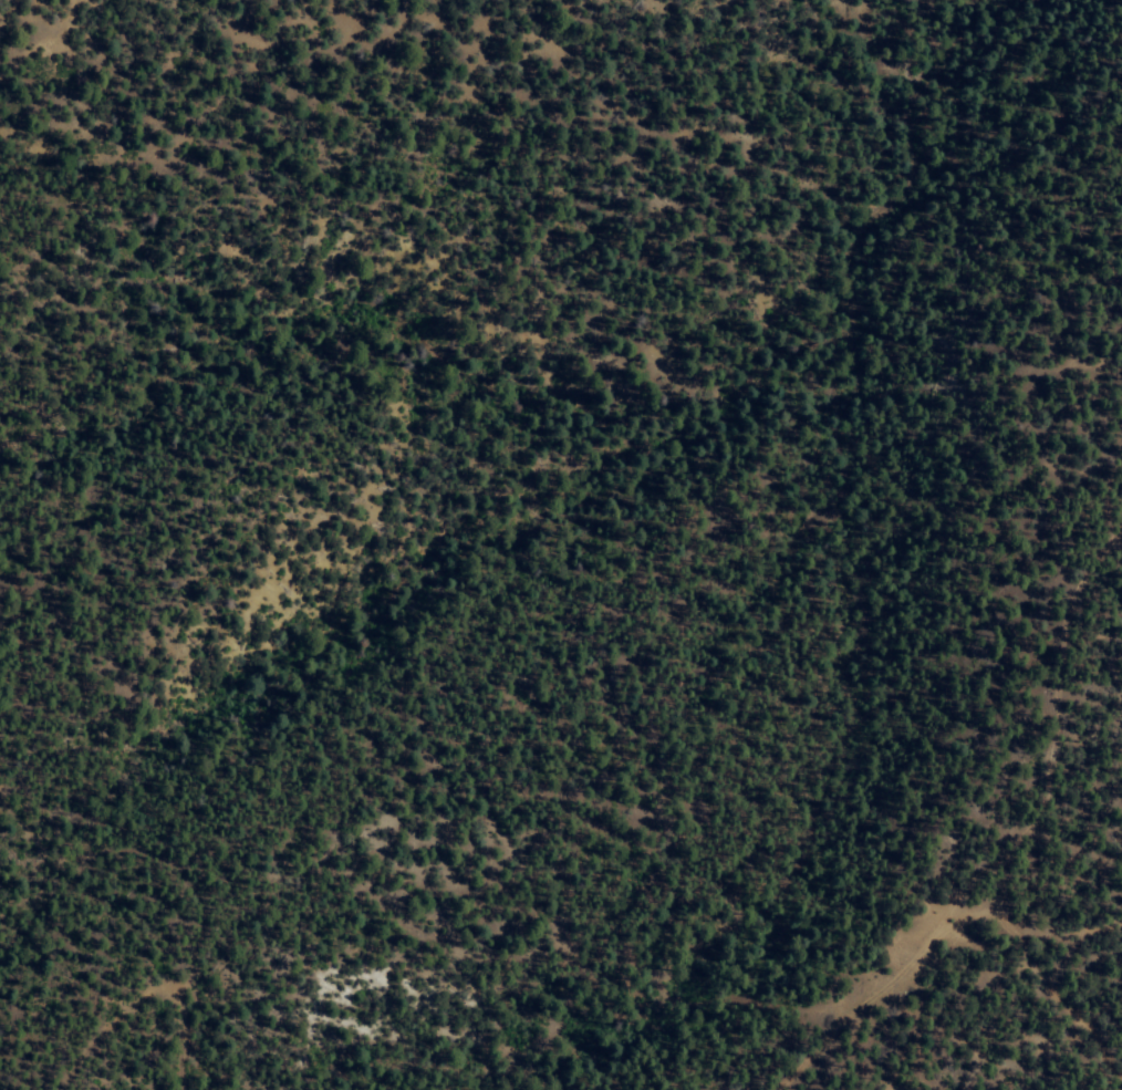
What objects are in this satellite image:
road: (145, 903)
road: (887, 1052)

